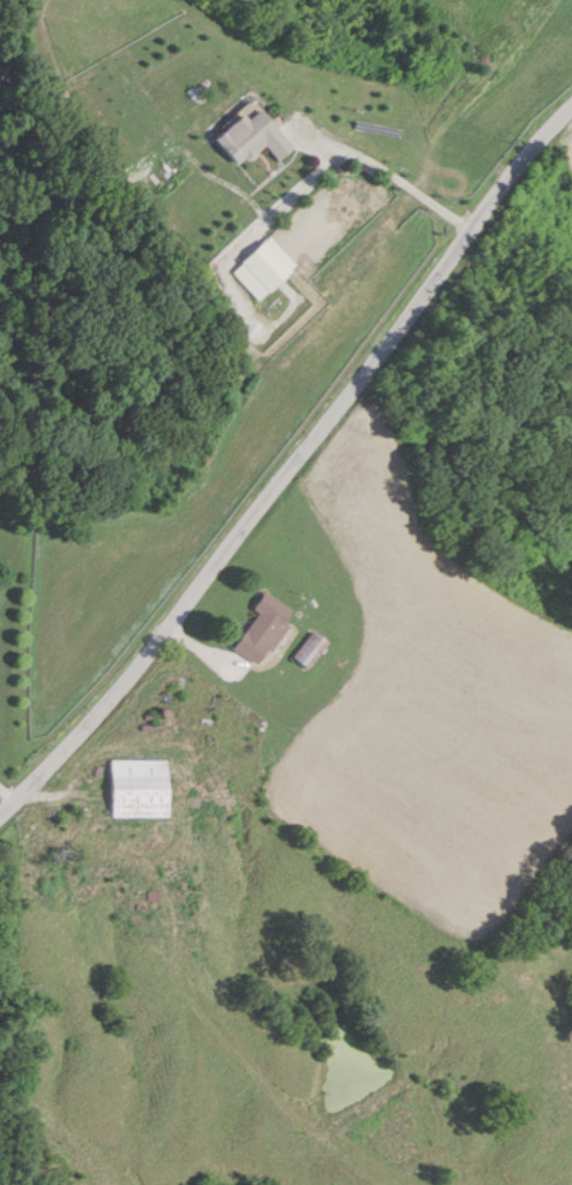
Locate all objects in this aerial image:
building: (251, 136)
road: (386, 167)
building: (264, 267)
road: (292, 462)
building: (263, 627)
building: (311, 648)
building: (142, 788)
road: (7, 789)

